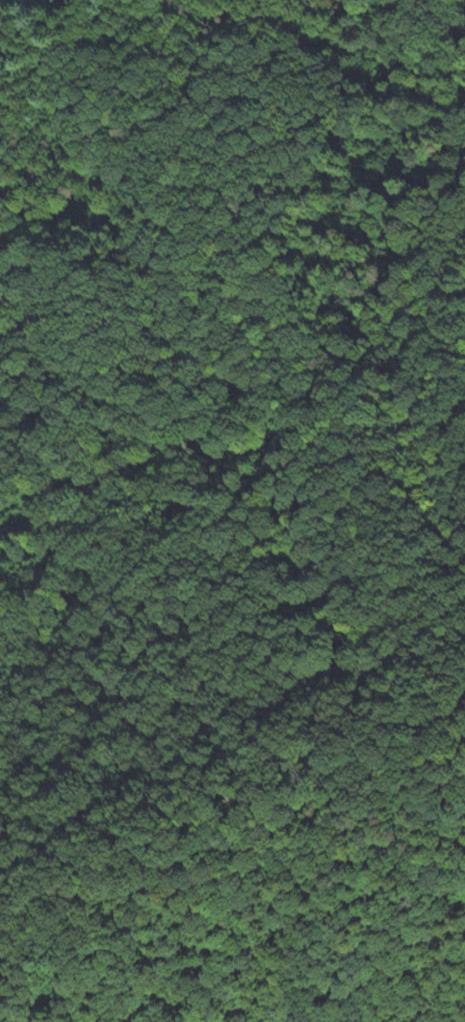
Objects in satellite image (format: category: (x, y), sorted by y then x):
building: (44, 1)

